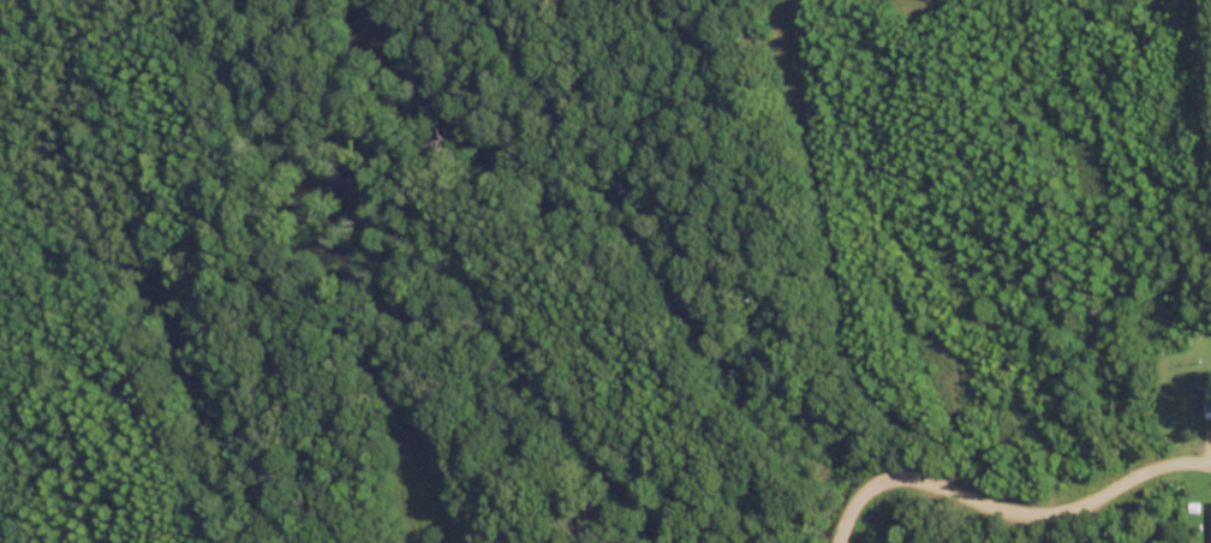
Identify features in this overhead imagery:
building: (1209, 399)
road: (997, 491)

